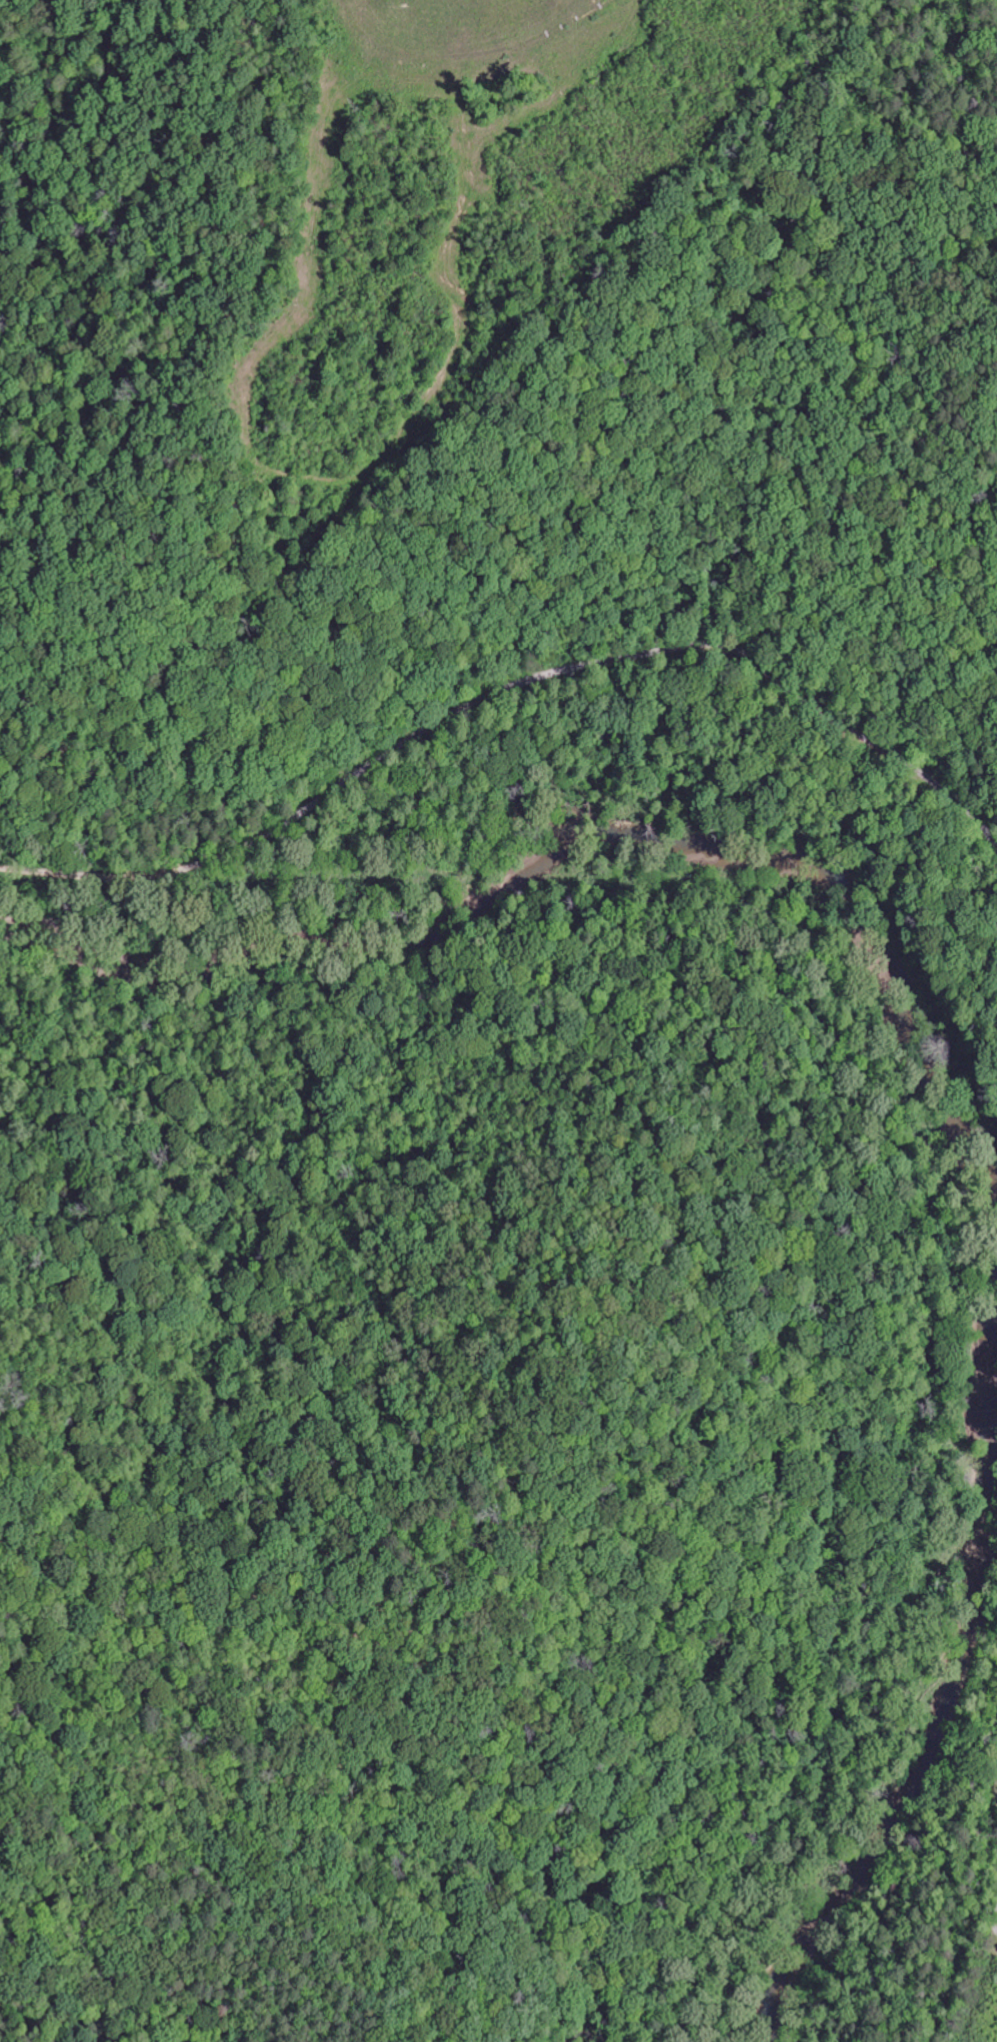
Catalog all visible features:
road: (511, 684)

